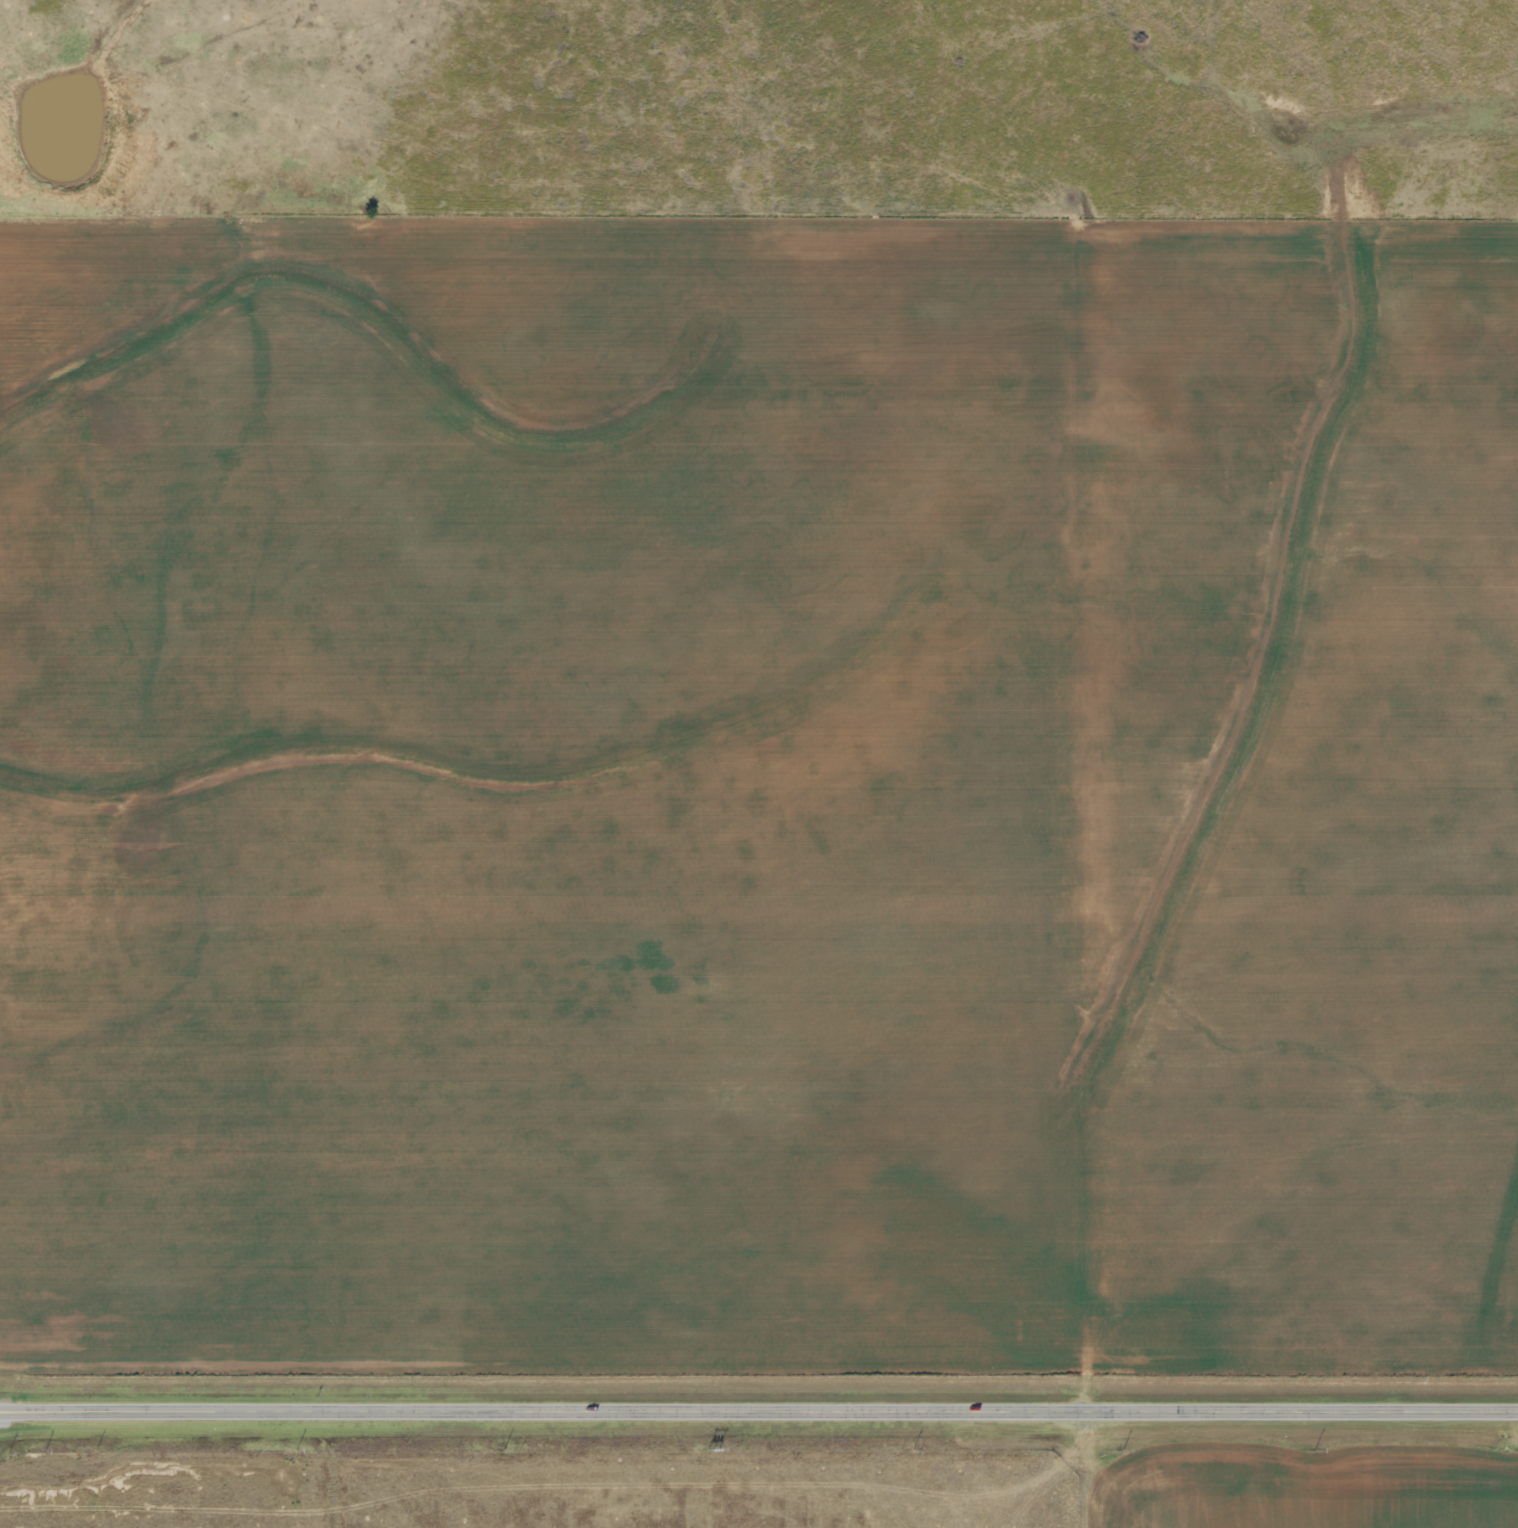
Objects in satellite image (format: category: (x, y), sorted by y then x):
road: (759, 1413)

